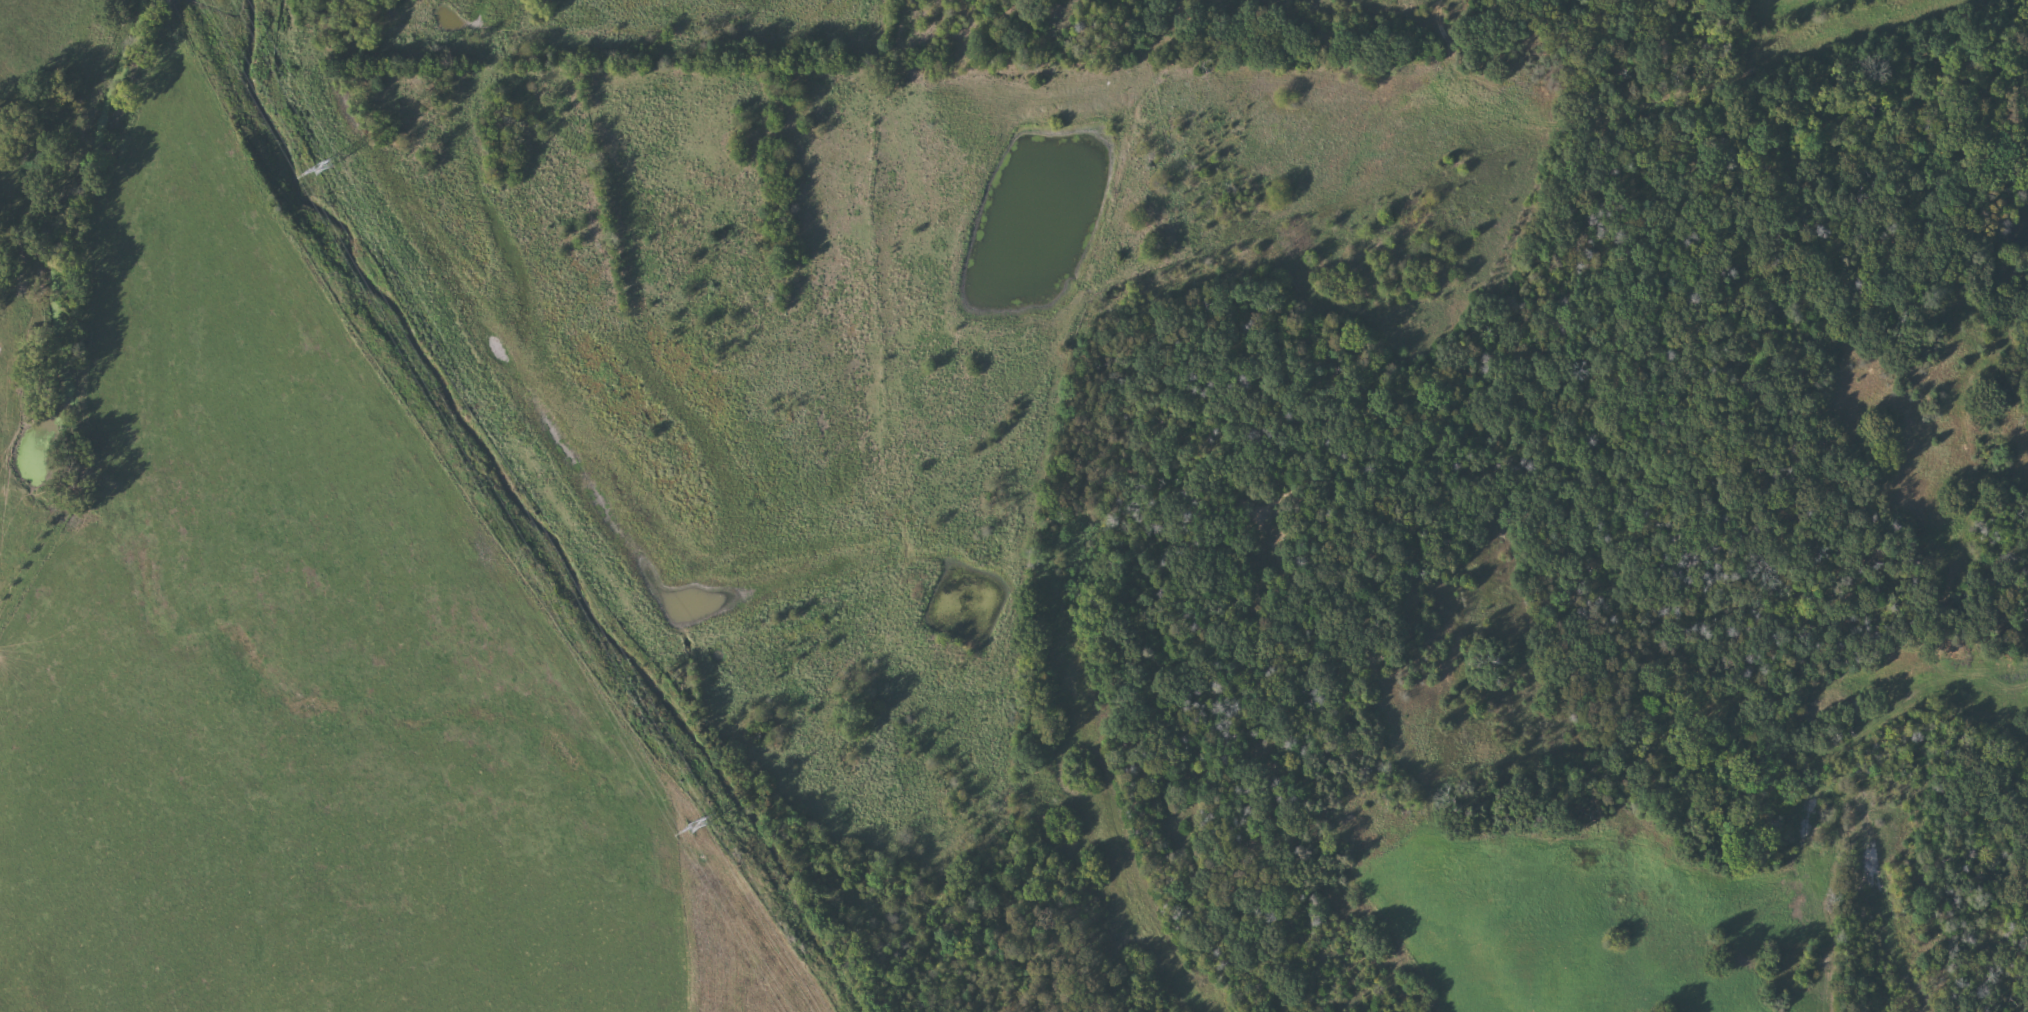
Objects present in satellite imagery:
power tower: (326, 169)
power tower: (701, 824)

